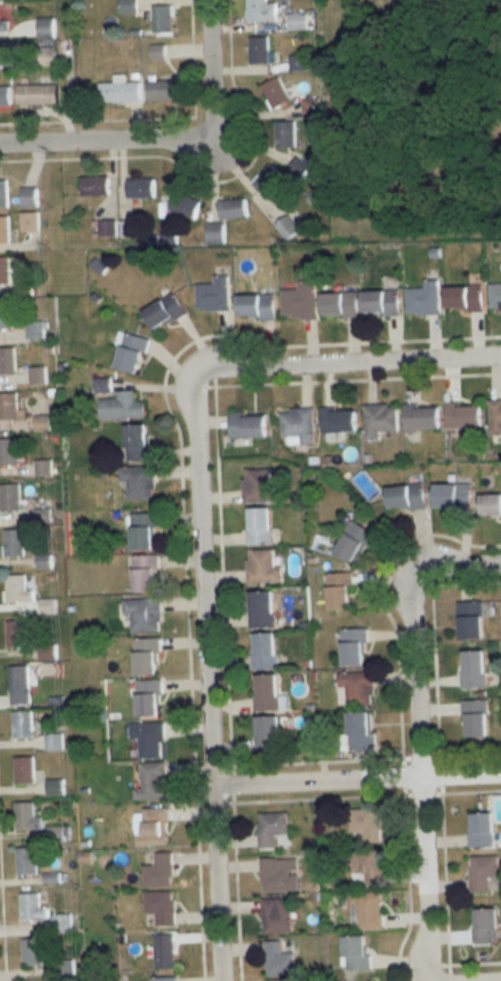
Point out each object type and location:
building: (261, 11)
building: (163, 20)
building: (302, 20)
building: (4, 25)
building: (46, 28)
building: (259, 49)
building: (159, 50)
building: (45, 56)
building: (4, 57)
building: (298, 63)
road: (208, 67)
building: (161, 90)
building: (120, 91)
building: (277, 93)
building: (37, 94)
building: (5, 96)
building: (311, 106)
building: (285, 134)
road: (103, 144)
building: (298, 167)
building: (268, 179)
building: (94, 186)
building: (140, 188)
building: (3, 194)
building: (29, 197)
building: (185, 205)
building: (233, 208)
building: (29, 222)
building: (287, 227)
building: (4, 230)
building: (215, 233)
building: (4, 270)
building: (213, 294)
building: (495, 296)
building: (465, 298)
building: (423, 299)
building: (300, 301)
building: (381, 303)
building: (340, 304)
building: (256, 307)
building: (164, 311)
building: (5, 315)
building: (36, 329)
building: (131, 352)
building: (7, 360)
road: (348, 362)
building: (122, 406)
building: (10, 407)
building: (464, 415)
building: (495, 416)
building: (422, 418)
building: (380, 419)
building: (339, 420)
building: (299, 425)
building: (249, 426)
building: (138, 442)
building: (9, 452)
building: (43, 468)
building: (138, 482)
building: (258, 486)
building: (453, 496)
building: (11, 497)
building: (406, 497)
building: (491, 506)
building: (260, 525)
building: (143, 531)
building: (14, 542)
building: (354, 542)
building: (262, 566)
building: (145, 573)
building: (18, 589)
building: (339, 591)
building: (262, 609)
building: (144, 614)
building: (471, 621)
building: (17, 634)
building: (354, 647)
building: (265, 651)
building: (146, 657)
building: (473, 669)
road: (203, 678)
building: (19, 685)
building: (357, 687)
building: (266, 692)
building: (148, 698)
building: (474, 719)
building: (22, 724)
building: (360, 731)
building: (268, 734)
road: (415, 737)
building: (148, 739)
building: (53, 742)
building: (24, 770)
building: (152, 782)
road: (354, 782)
building: (54, 787)
building: (27, 817)
building: (364, 826)
building: (151, 827)
building: (272, 830)
building: (481, 831)
building: (26, 862)
building: (366, 868)
building: (158, 870)
building: (481, 872)
building: (279, 875)
building: (160, 907)
building: (32, 908)
building: (368, 909)
building: (277, 916)
building: (486, 927)
building: (32, 951)
building: (356, 951)
building: (164, 952)
building: (278, 960)
building: (164, 979)
building: (279, 980)
building: (372, 980)

